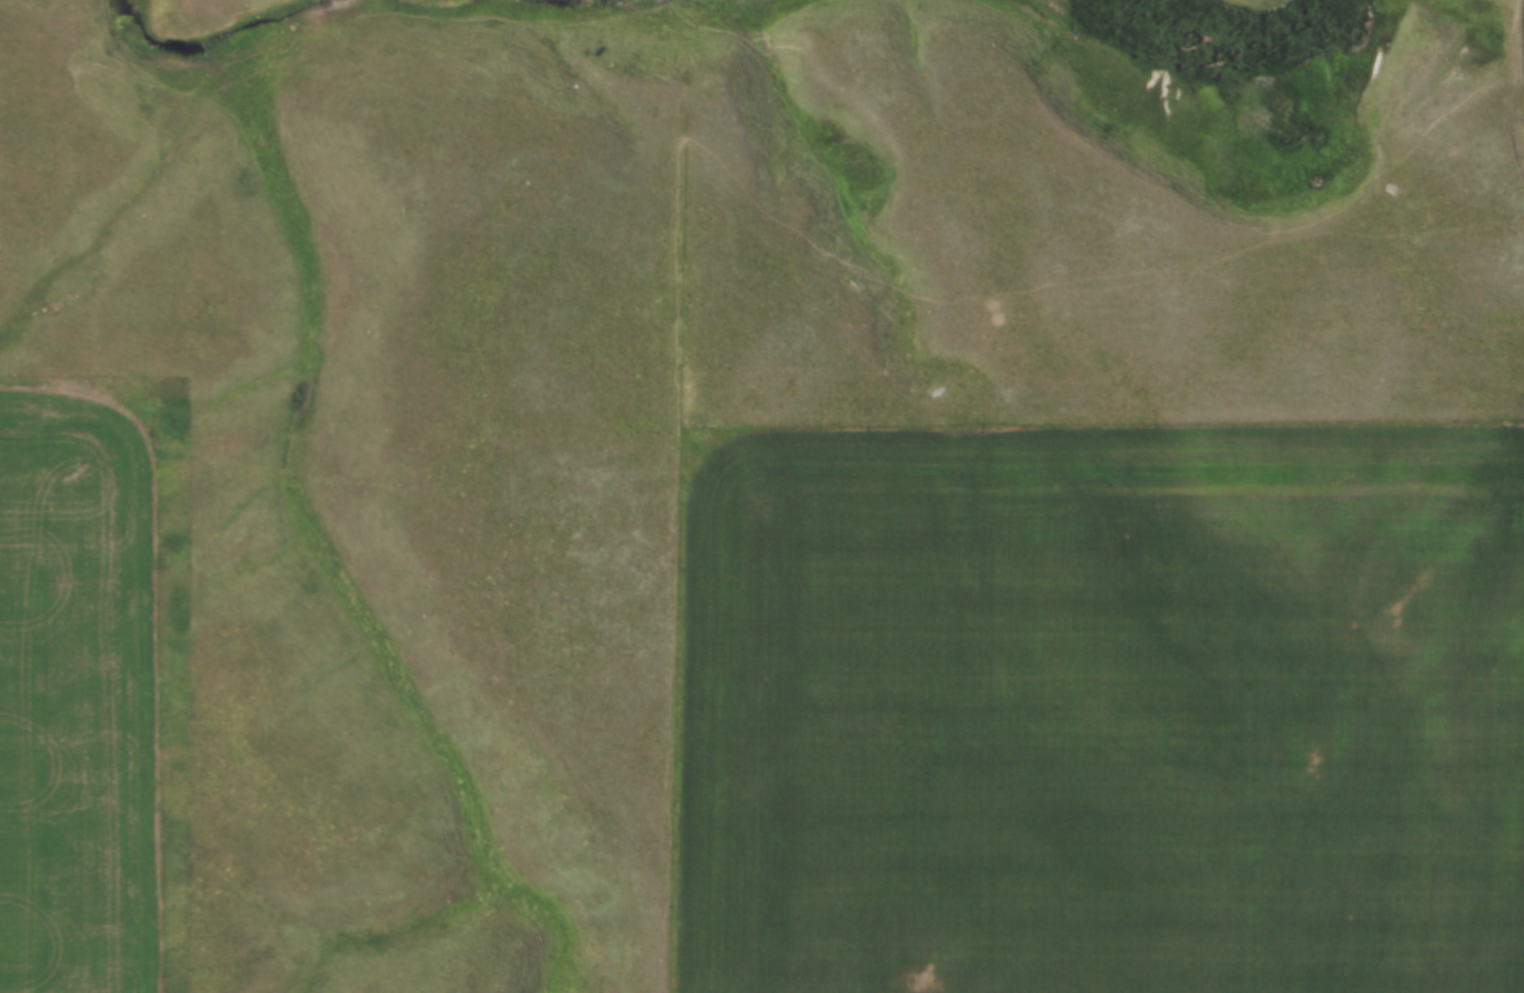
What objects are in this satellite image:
dam: (1512, 37)

